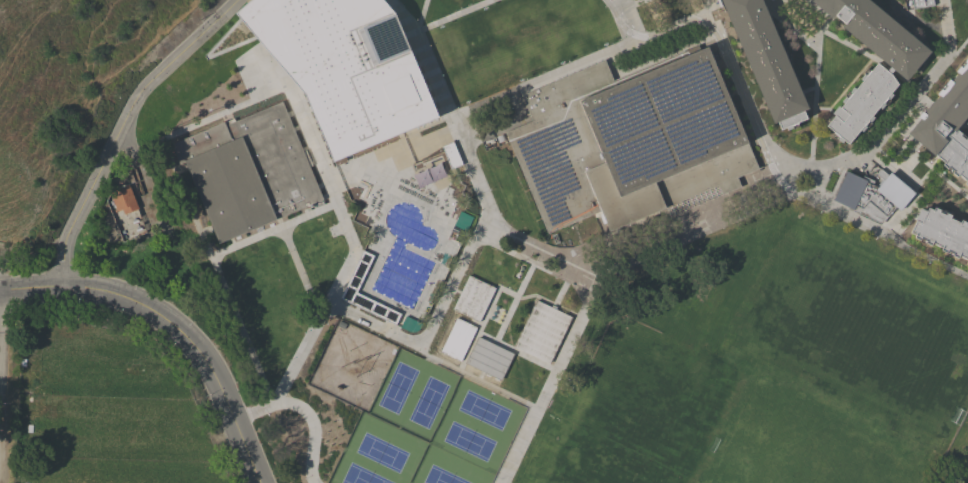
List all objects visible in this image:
building: (772, 0)
road: (627, 2)
road: (775, 4)
building: (916, 4)
road: (625, 5)
road: (697, 8)
road: (704, 8)
street lamp: (485, 9)
road: (653, 14)
street lamp: (937, 14)
road: (401, 15)
road: (419, 15)
road: (626, 16)
road: (823, 16)
road: (445, 17)
road: (786, 18)
road: (920, 22)
street lamp: (778, 24)
street lamp: (440, 27)
road: (663, 33)
street lamp: (793, 34)
street lamp: (849, 42)
street lamp: (807, 45)
road: (847, 45)
street lamp: (604, 46)
road: (957, 51)
street lamp: (937, 58)
building: (765, 61)
street lamp: (560, 64)
building: (341, 69)
building: (878, 72)
street lamp: (518, 80)
road: (526, 84)
road: (850, 84)
road: (917, 96)
road: (741, 98)
road: (814, 100)
street lamp: (465, 102)
road: (824, 109)
road: (895, 120)
building: (946, 123)
road: (965, 125)
road: (506, 126)
road: (120, 127)
street lamp: (902, 140)
building: (629, 141)
road: (755, 142)
road: (765, 143)
street lamp: (841, 153)
street lamp: (916, 153)
building: (451, 155)
street lamp: (807, 159)
street lamp: (479, 163)
street lamp: (929, 163)
building: (249, 170)
building: (431, 173)
road: (937, 173)
road: (138, 174)
street lamp: (943, 174)
road: (924, 176)
road: (814, 183)
street lamp: (490, 190)
building: (872, 194)
building: (124, 199)
road: (913, 201)
road: (189, 208)
street lamp: (819, 213)
street lamp: (501, 214)
building: (463, 221)
road: (272, 229)
road: (685, 230)
building: (941, 231)
street lamp: (521, 233)
road: (475, 236)
street lamp: (876, 240)
crop: (10, 249)
road: (354, 250)
road: (923, 255)
building: (967, 261)
road: (533, 263)
street lamp: (927, 264)
road: (299, 270)
building: (357, 274)
street lamp: (554, 279)
street lamp: (570, 285)
road: (454, 290)
road: (507, 293)
road: (559, 293)
road: (535, 295)
building: (472, 298)
road: (533, 298)
road: (513, 302)
street lamp: (78, 307)
road: (567, 311)
street lamp: (121, 316)
road: (172, 325)
building: (410, 325)
road: (478, 329)
building: (541, 331)
park: (868, 335)
building: (457, 339)
street lamp: (171, 348)
road: (515, 351)
building: (487, 358)
road: (480, 376)
road: (473, 378)
road: (547, 386)
street lamp: (207, 397)
park: (411, 415)
park: (639, 418)
road: (311, 429)
street lamp: (260, 441)
park: (781, 448)
stadium: (955, 457)

